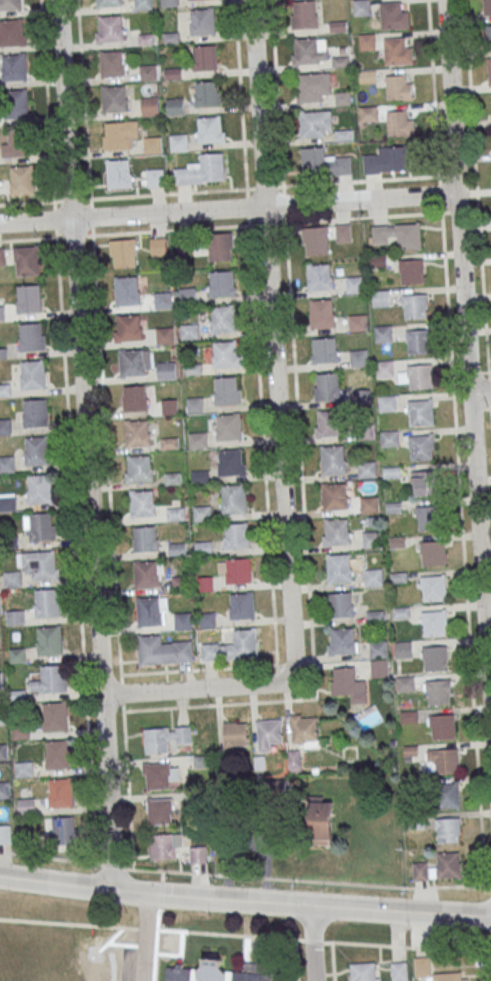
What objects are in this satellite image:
building: (108, 3)
building: (169, 3)
building: (143, 4)
building: (10, 5)
building: (361, 6)
building: (487, 7)
building: (304, 13)
building: (395, 15)
building: (203, 21)
building: (337, 25)
building: (110, 28)
building: (12, 32)
building: (488, 36)
building: (366, 41)
building: (306, 50)
building: (398, 51)
building: (205, 57)
building: (340, 61)
building: (112, 64)
building: (14, 66)
building: (489, 70)
building: (148, 72)
building: (367, 75)
building: (312, 86)
building: (398, 87)
building: (207, 93)
road: (276, 93)
building: (343, 98)
road: (83, 99)
building: (114, 99)
road: (46, 100)
building: (17, 103)
building: (150, 105)
building: (175, 106)
road: (241, 112)
building: (368, 113)
building: (314, 122)
building: (399, 124)
building: (210, 129)
building: (121, 134)
building: (179, 142)
building: (16, 143)
building: (152, 144)
building: (388, 159)
building: (323, 162)
building: (202, 170)
building: (118, 173)
building: (155, 177)
building: (21, 179)
road: (361, 180)
road: (122, 195)
road: (228, 209)
road: (477, 210)
road: (220, 225)
building: (343, 232)
building: (399, 235)
building: (316, 240)
building: (158, 246)
building: (219, 246)
building: (123, 252)
building: (2, 256)
building: (27, 259)
building: (412, 271)
building: (319, 276)
building: (222, 283)
building: (354, 284)
building: (126, 290)
building: (187, 295)
building: (29, 297)
building: (381, 297)
building: (163, 299)
building: (416, 306)
building: (2, 311)
building: (322, 313)
building: (223, 318)
building: (358, 321)
building: (127, 327)
building: (190, 330)
building: (383, 333)
building: (165, 335)
building: (31, 336)
building: (418, 341)
building: (324, 349)
building: (3, 351)
road: (466, 351)
building: (225, 353)
building: (359, 357)
building: (135, 362)
building: (193, 368)
building: (385, 368)
building: (165, 370)
road: (479, 372)
building: (33, 374)
building: (421, 376)
building: (326, 386)
building: (5, 389)
building: (227, 390)
road: (479, 390)
building: (134, 398)
building: (388, 403)
building: (195, 404)
building: (170, 406)
road: (480, 407)
building: (421, 412)
building: (35, 413)
building: (329, 423)
building: (5, 424)
building: (228, 426)
road: (277, 428)
building: (364, 431)
building: (137, 432)
building: (390, 438)
building: (197, 439)
building: (170, 442)
road: (456, 442)
road: (89, 445)
building: (421, 447)
building: (37, 450)
building: (334, 459)
building: (230, 461)
building: (7, 463)
building: (138, 468)
building: (368, 468)
building: (392, 471)
building: (200, 476)
building: (172, 477)
building: (424, 482)
building: (40, 488)
building: (335, 496)
building: (234, 500)
building: (8, 502)
building: (143, 503)
road: (267, 503)
building: (370, 504)
building: (202, 512)
building: (176, 513)
building: (427, 517)
building: (40, 526)
road: (76, 531)
building: (337, 531)
road: (111, 533)
building: (237, 535)
building: (145, 538)
road: (306, 538)
building: (372, 538)
building: (203, 548)
building: (433, 552)
building: (44, 564)
building: (339, 568)
building: (235, 570)
building: (149, 573)
building: (373, 577)
building: (13, 578)
building: (205, 583)
building: (432, 587)
building: (48, 602)
building: (341, 604)
building: (242, 605)
building: (149, 611)
building: (15, 617)
building: (183, 620)
building: (207, 620)
building: (434, 622)
building: (50, 640)
building: (345, 640)
building: (0, 641)
building: (233, 647)
building: (403, 648)
building: (150, 649)
building: (17, 655)
building: (435, 657)
building: (380, 658)
building: (53, 678)
building: (1, 679)
building: (405, 683)
building: (348, 684)
building: (439, 691)
building: (2, 716)
building: (56, 716)
building: (442, 726)
building: (304, 727)
building: (21, 730)
building: (269, 733)
building: (236, 734)
building: (165, 738)
building: (3, 751)
building: (58, 754)
building: (295, 760)
building: (443, 760)
building: (24, 769)
building: (160, 775)
building: (4, 789)
building: (273, 789)
building: (61, 792)
building: (447, 794)
building: (27, 805)
building: (160, 811)
building: (319, 822)
building: (448, 829)
building: (64, 830)
building: (5, 833)
building: (162, 846)
building: (198, 854)
building: (440, 867)
road: (161, 874)
road: (244, 874)
traffic signals: (119, 891)
road: (161, 892)
traffic signals: (149, 893)
road: (245, 900)
road: (68, 922)
road: (145, 927)
road: (229, 933)
road: (145, 937)
road: (313, 940)
road: (155, 943)
road: (313, 943)
road: (407, 946)
road: (295, 959)
road: (332, 961)
building: (422, 966)
road: (489, 966)
building: (398, 970)
building: (218, 971)
building: (365, 971)

